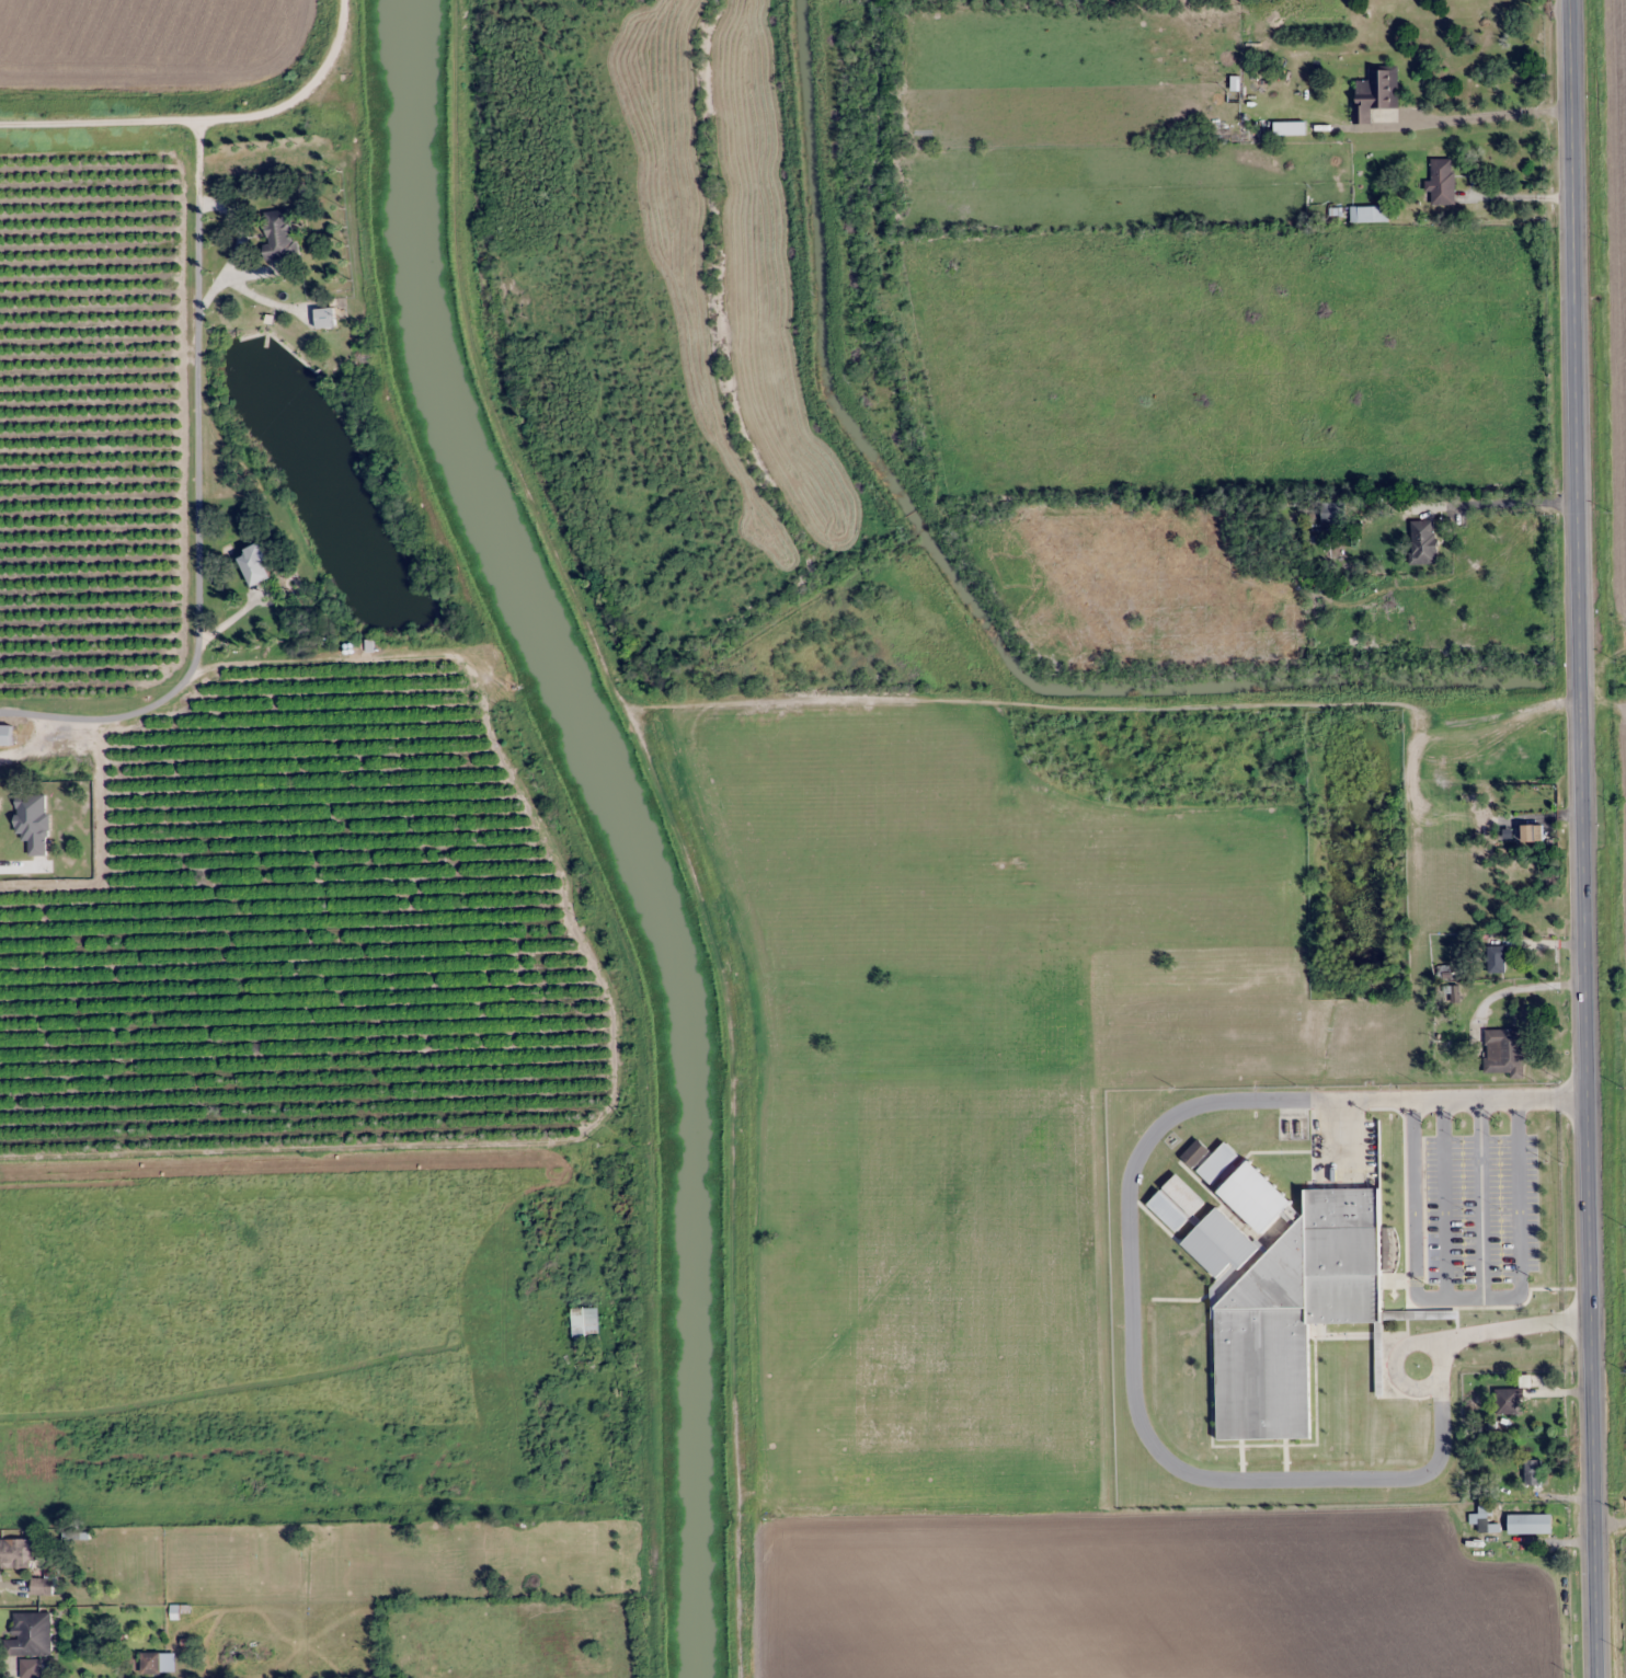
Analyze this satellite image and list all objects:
road: (173, 57)
building: (1375, 92)
building: (1441, 181)
building: (1359, 214)
building: (279, 234)
building: (324, 318)
building: (1332, 513)
building: (1422, 541)
building: (255, 565)
building: (4, 735)
building: (33, 821)
river: (622, 825)
building: (1527, 834)
road: (1590, 838)
building: (1497, 955)
building: (1504, 1050)
building: (1290, 1302)
building: (584, 1324)
building: (1508, 1401)
building: (1533, 1472)
building: (1530, 1524)
building: (18, 1553)
building: (46, 1583)
building: (28, 1635)
building: (150, 1663)
building: (28, 1668)

